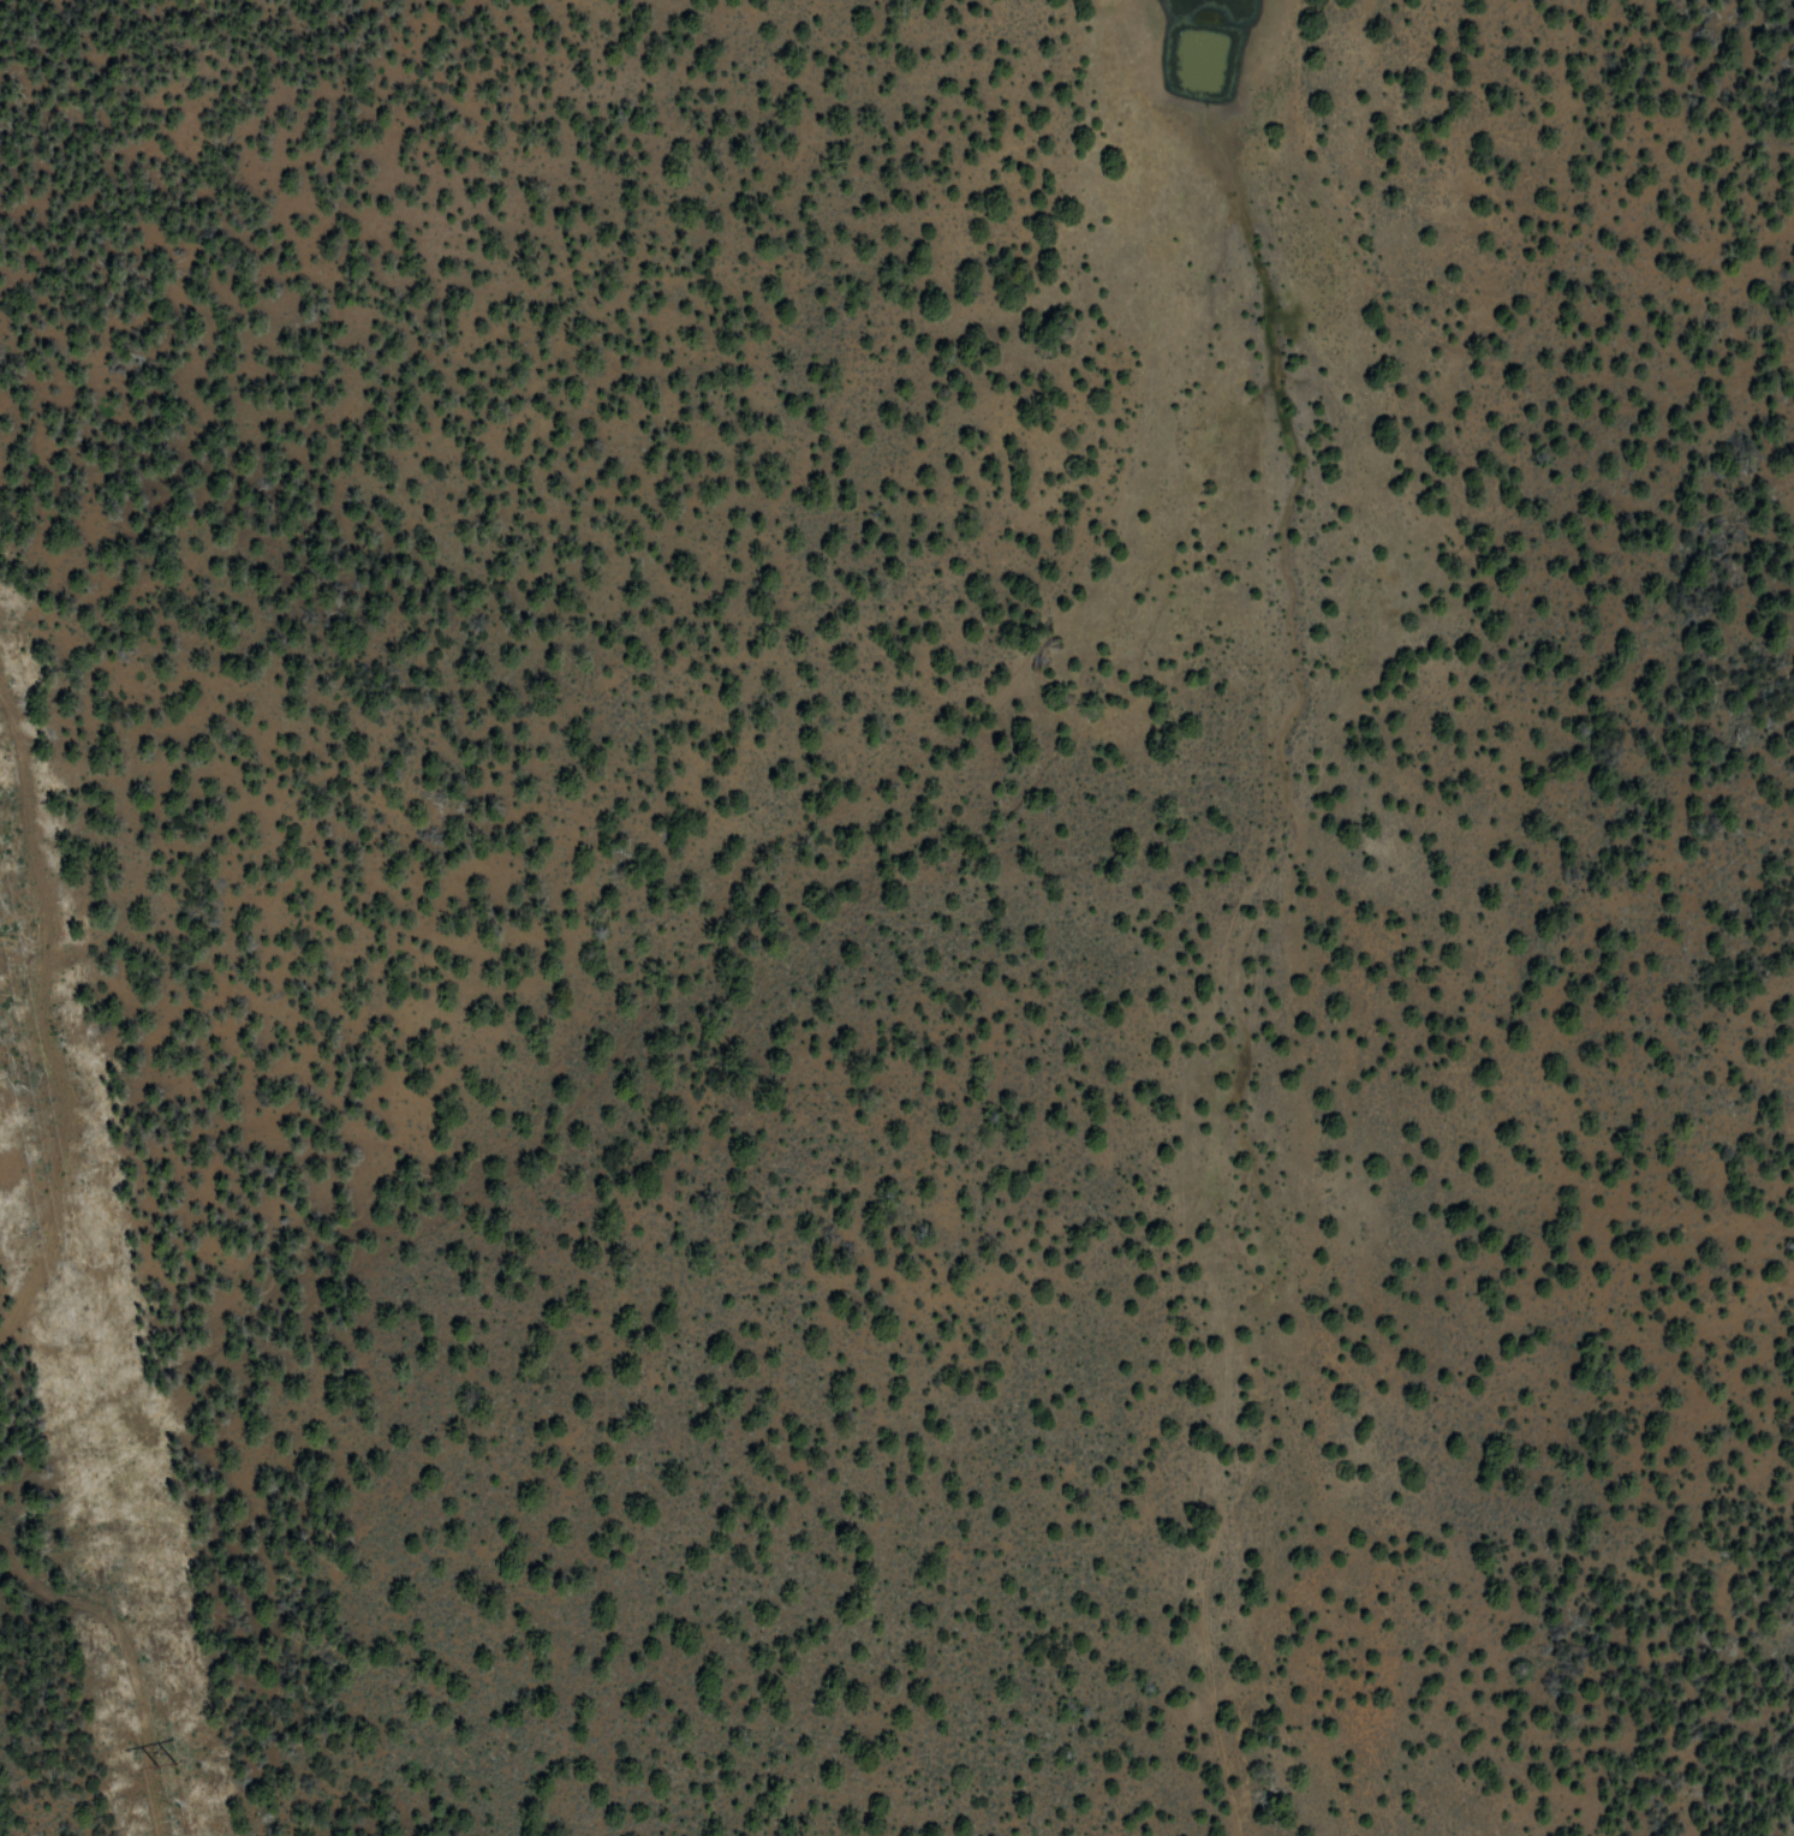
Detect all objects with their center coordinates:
power tower: (163, 1770)

